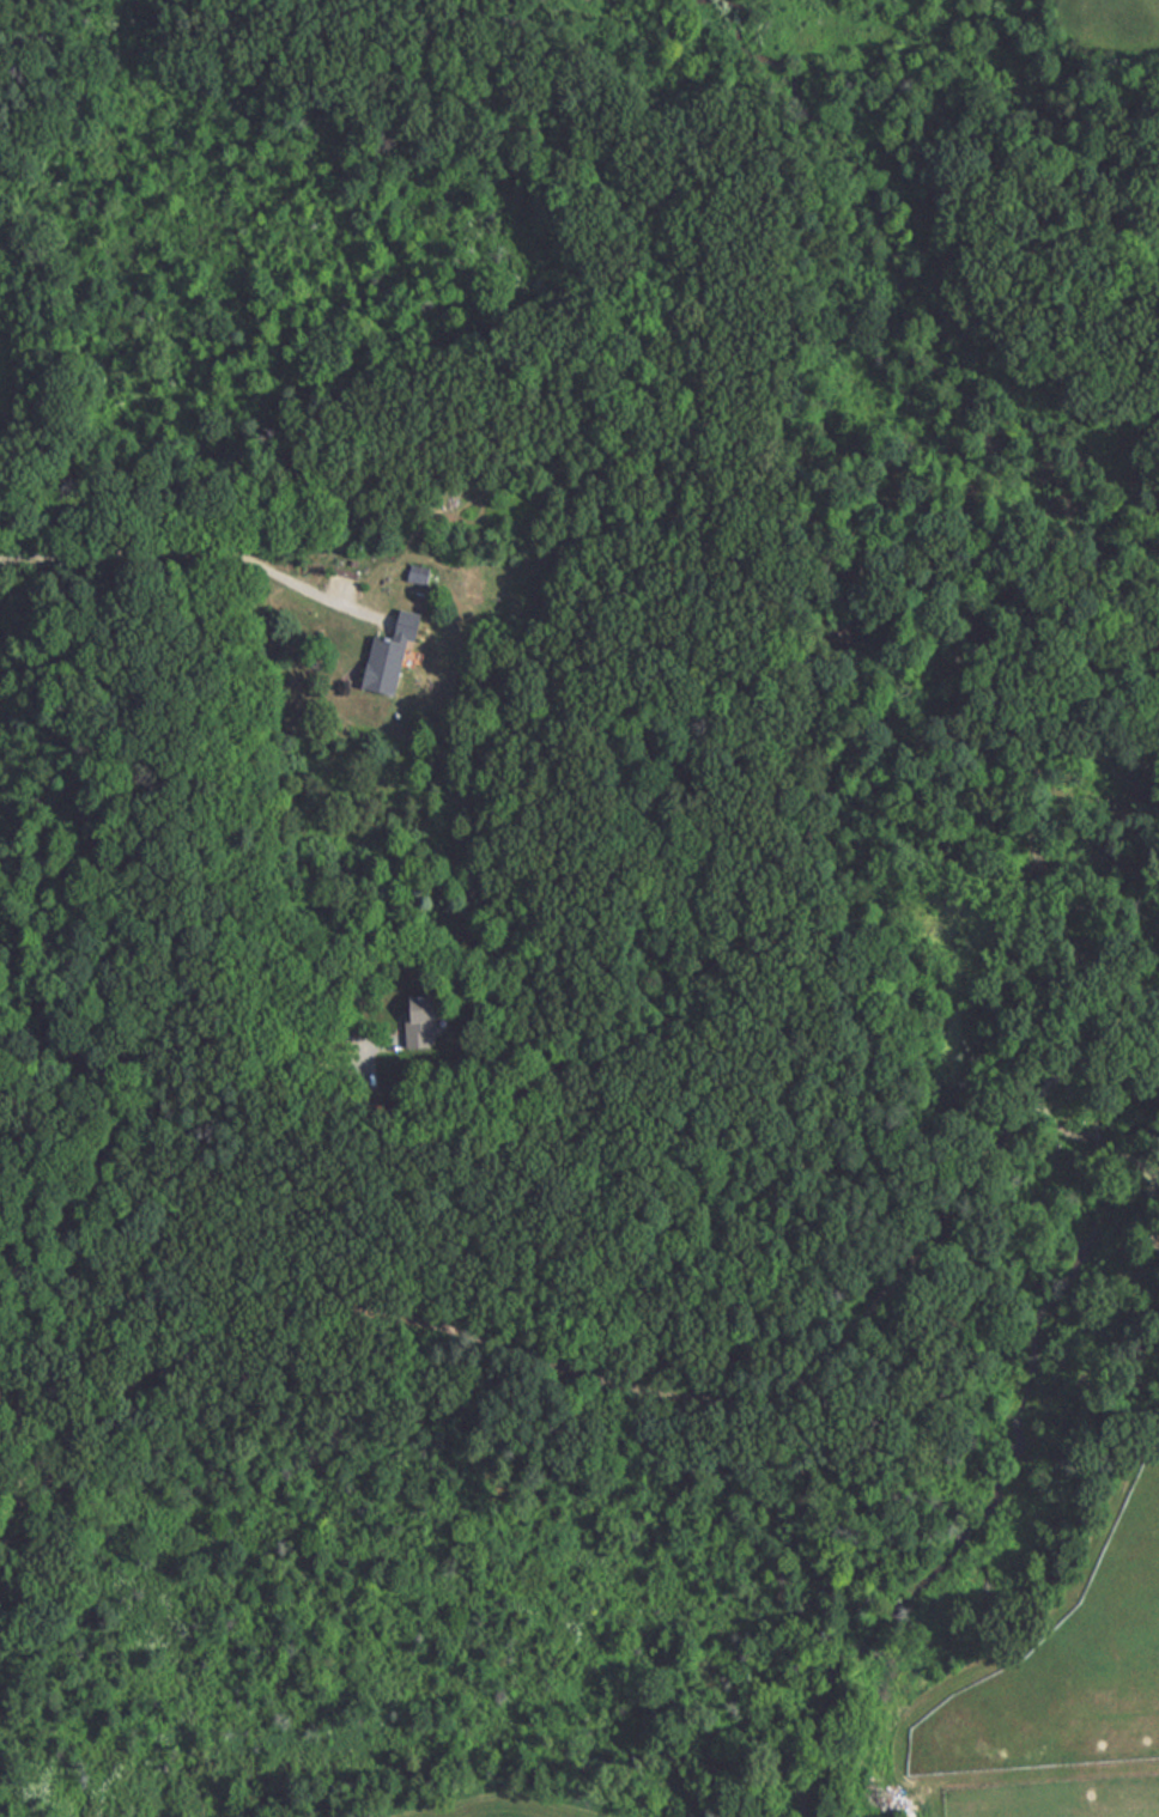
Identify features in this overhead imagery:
road: (182, 535)
building: (395, 654)
road: (171, 1046)

